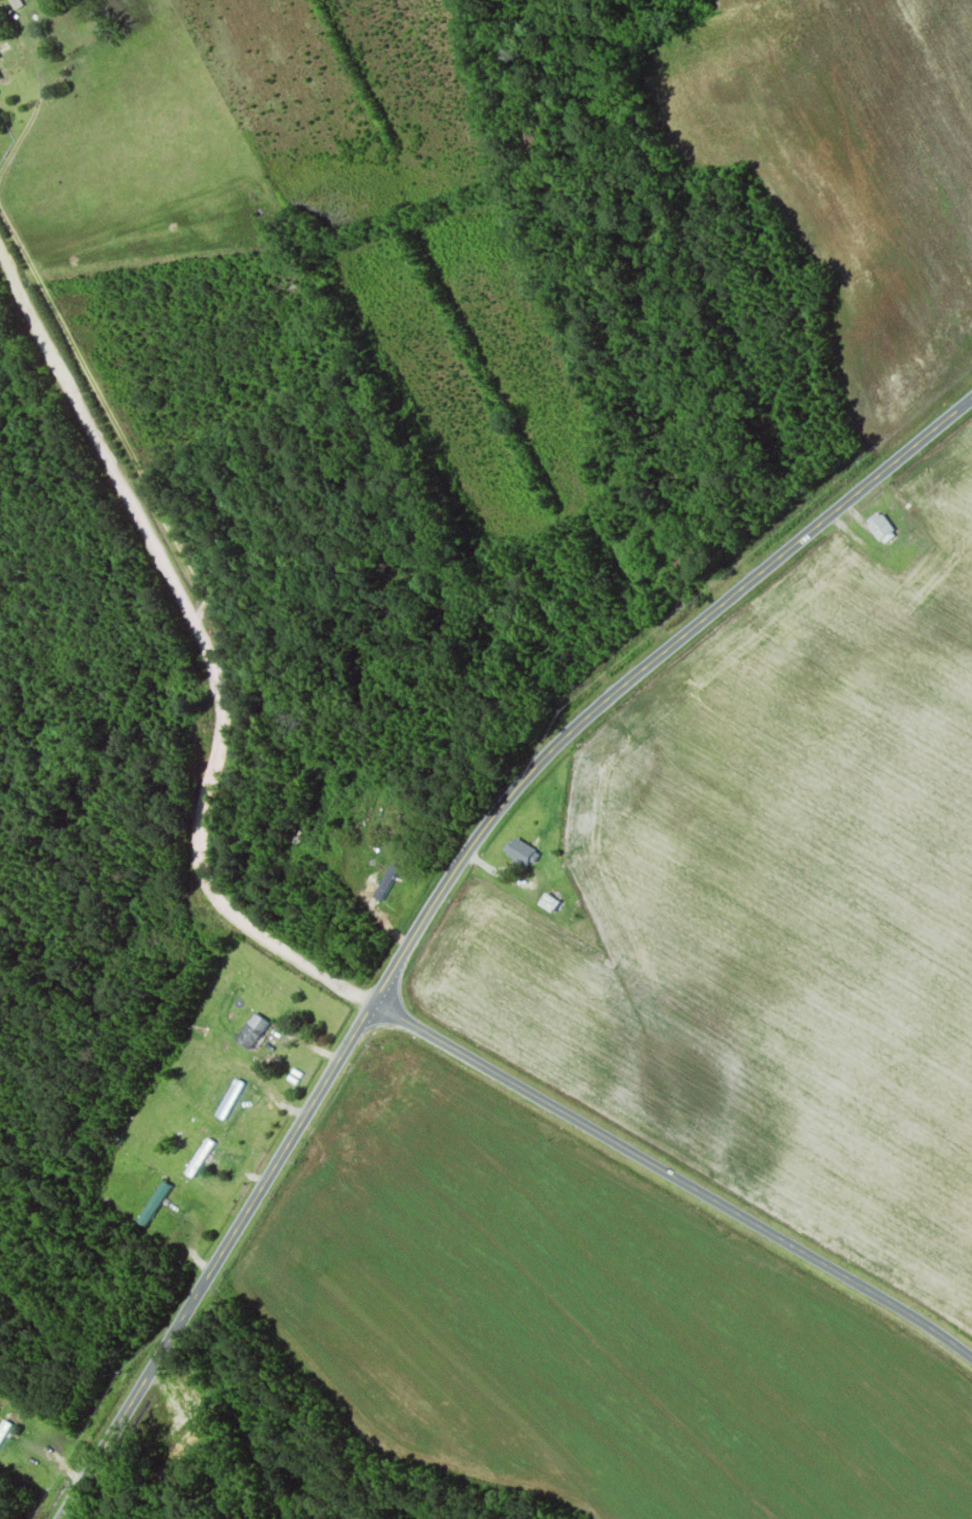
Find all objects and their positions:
building: (878, 527)
road: (205, 653)
road: (640, 672)
building: (520, 854)
building: (386, 883)
building: (549, 901)
building: (146, 915)
building: (254, 1027)
building: (227, 1093)
building: (199, 1160)
road: (674, 1180)
building: (154, 1206)
road: (217, 1262)
building: (4, 1432)

